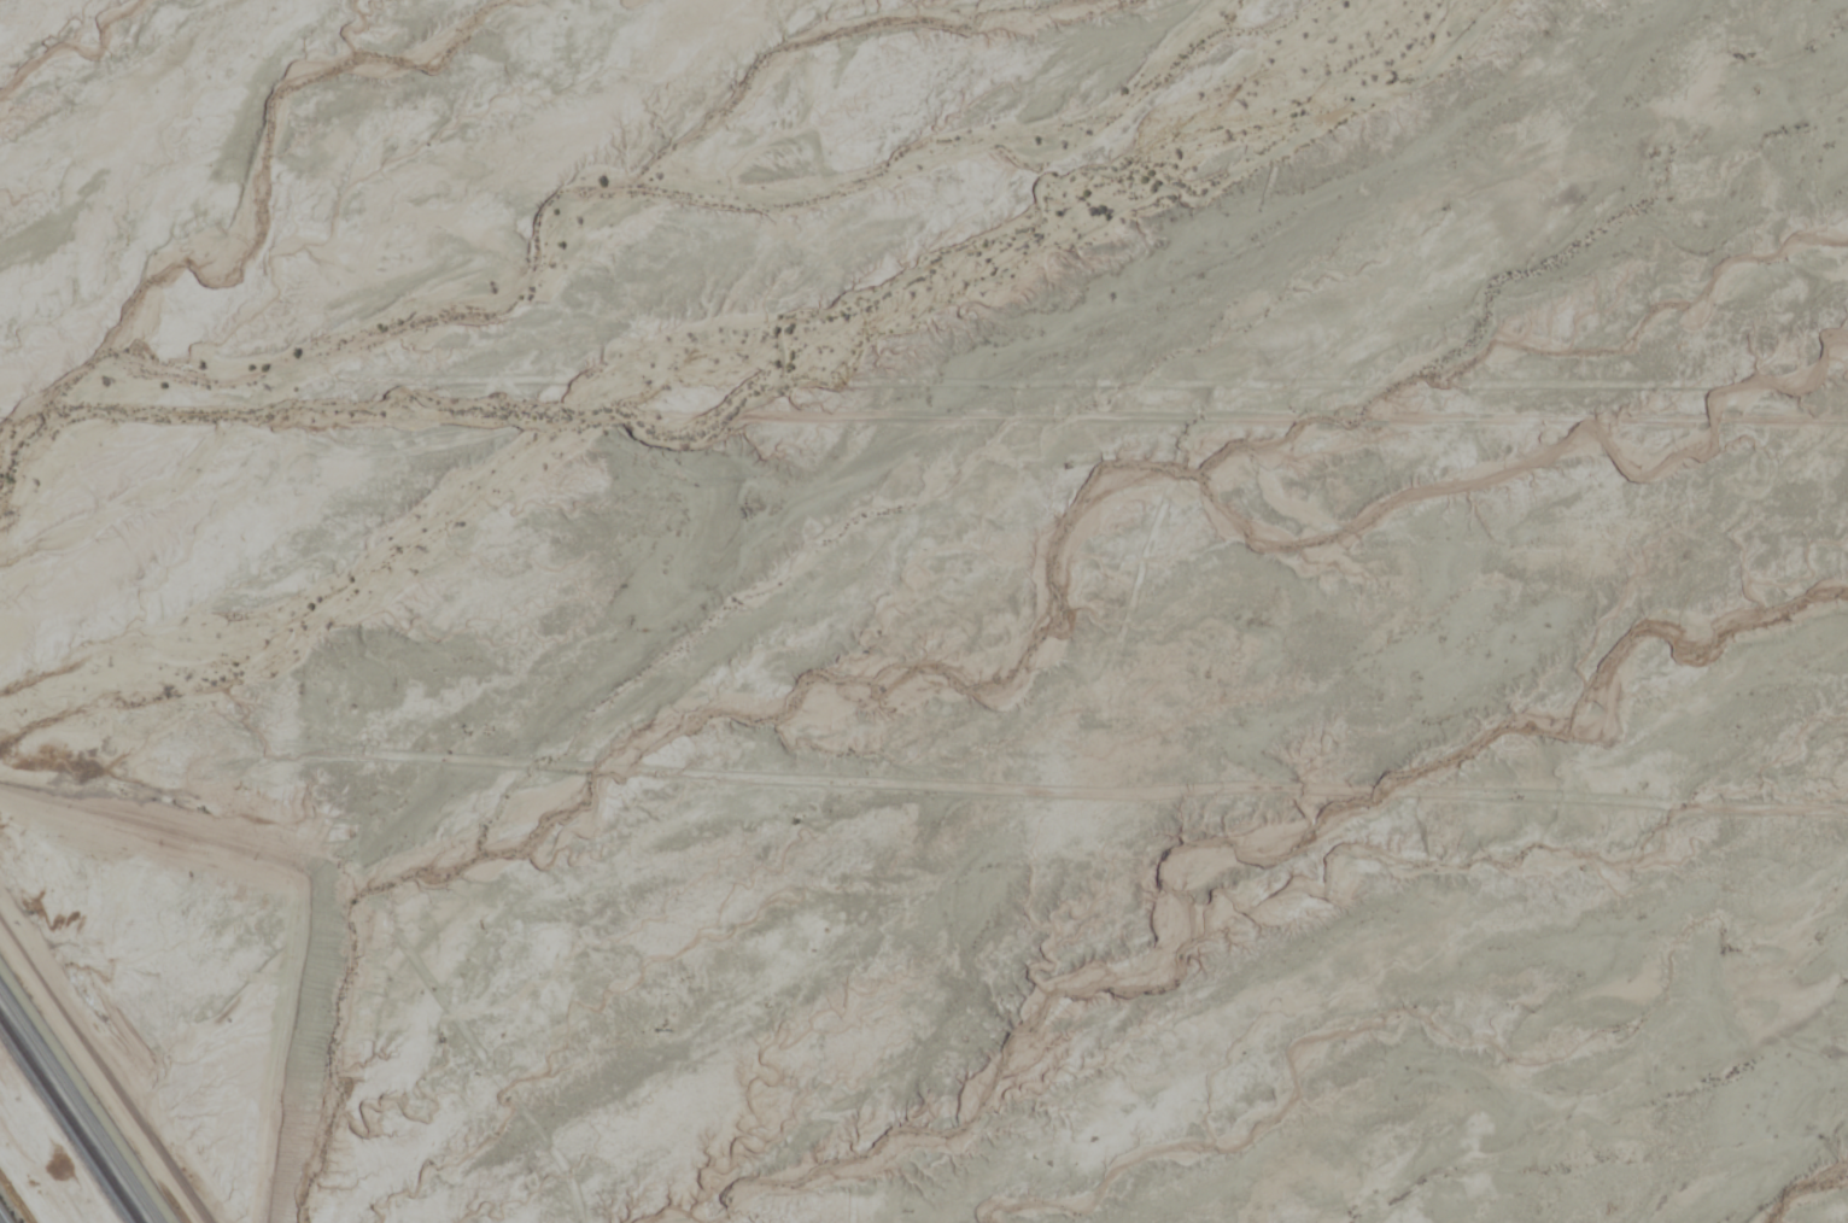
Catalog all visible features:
railway: (82, 1101)
railway: (70, 1117)

